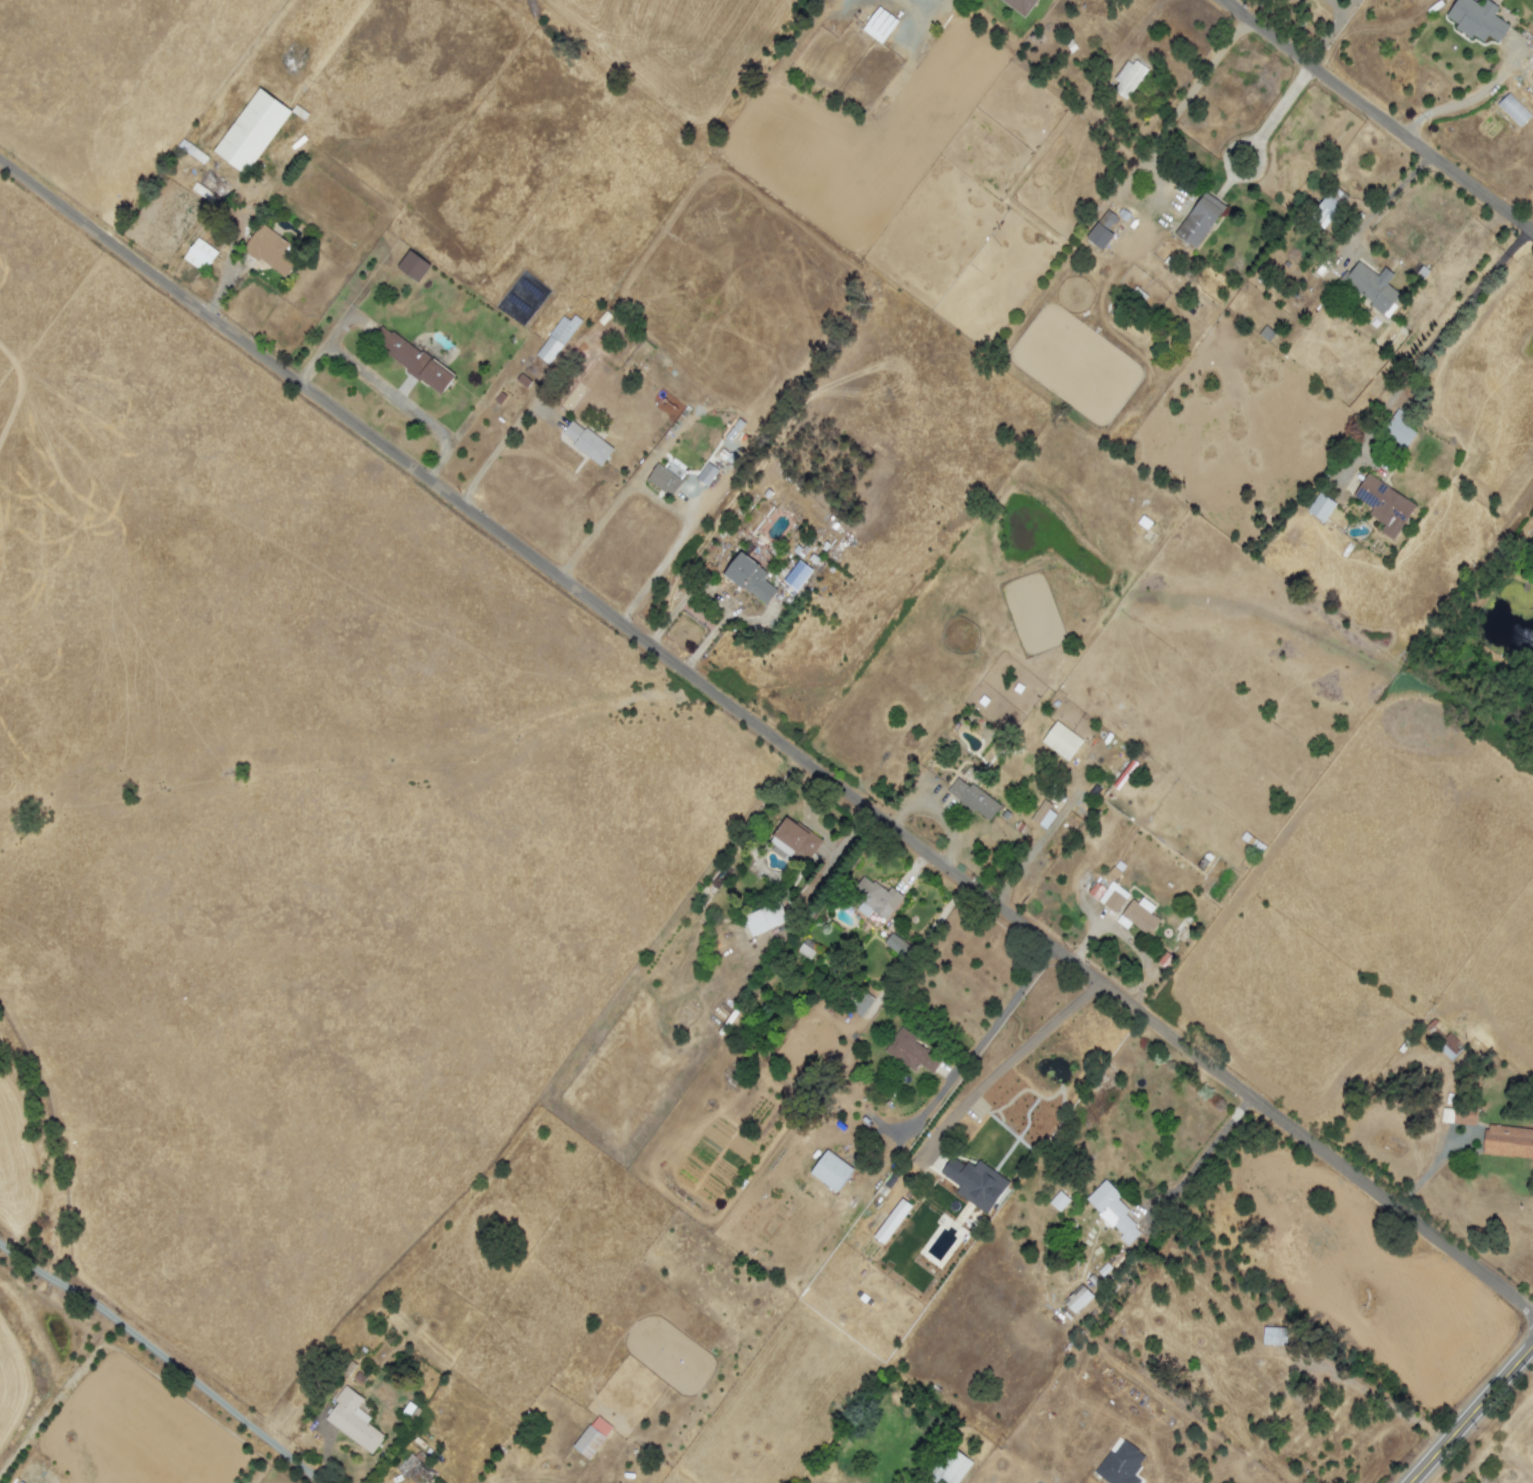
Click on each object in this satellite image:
building: (1019, 5)
road: (1336, 6)
building: (1477, 20)
building: (879, 25)
road: (1331, 31)
building: (1128, 78)
building: (1532, 78)
road: (1469, 98)
road: (1183, 101)
building: (1513, 110)
road: (1276, 111)
road: (1378, 116)
building: (251, 131)
building: (213, 188)
road: (1383, 202)
building: (1328, 205)
building: (1199, 220)
building: (1101, 231)
building: (271, 251)
building: (199, 255)
building: (413, 266)
building: (1372, 287)
building: (556, 339)
road: (1431, 345)
building: (411, 359)
road: (386, 392)
building: (1398, 429)
building: (586, 442)
road: (498, 444)
building: (706, 474)
building: (663, 480)
road: (613, 502)
building: (1384, 505)
building: (1321, 507)
road: (673, 546)
building: (797, 575)
building: (749, 578)
road: (714, 596)
road: (766, 734)
building: (1061, 741)
building: (974, 799)
building: (1043, 815)
building: (794, 841)
building: (1095, 891)
building: (1113, 897)
building: (875, 898)
building: (1138, 916)
building: (764, 919)
building: (897, 945)
building: (806, 949)
building: (860, 1003)
road: (999, 1011)
building: (1449, 1047)
building: (911, 1052)
road: (1009, 1059)
building: (1457, 1116)
building: (1508, 1141)
road: (1202, 1155)
building: (830, 1171)
building: (974, 1183)
building: (1058, 1201)
building: (1112, 1211)
building: (1078, 1299)
building: (1274, 1336)
road: (163, 1361)
road: (1377, 1397)
road: (1473, 1415)
building: (353, 1420)
building: (592, 1437)
building: (1120, 1465)
building: (411, 1467)
building: (952, 1468)
building: (21, 1482)

